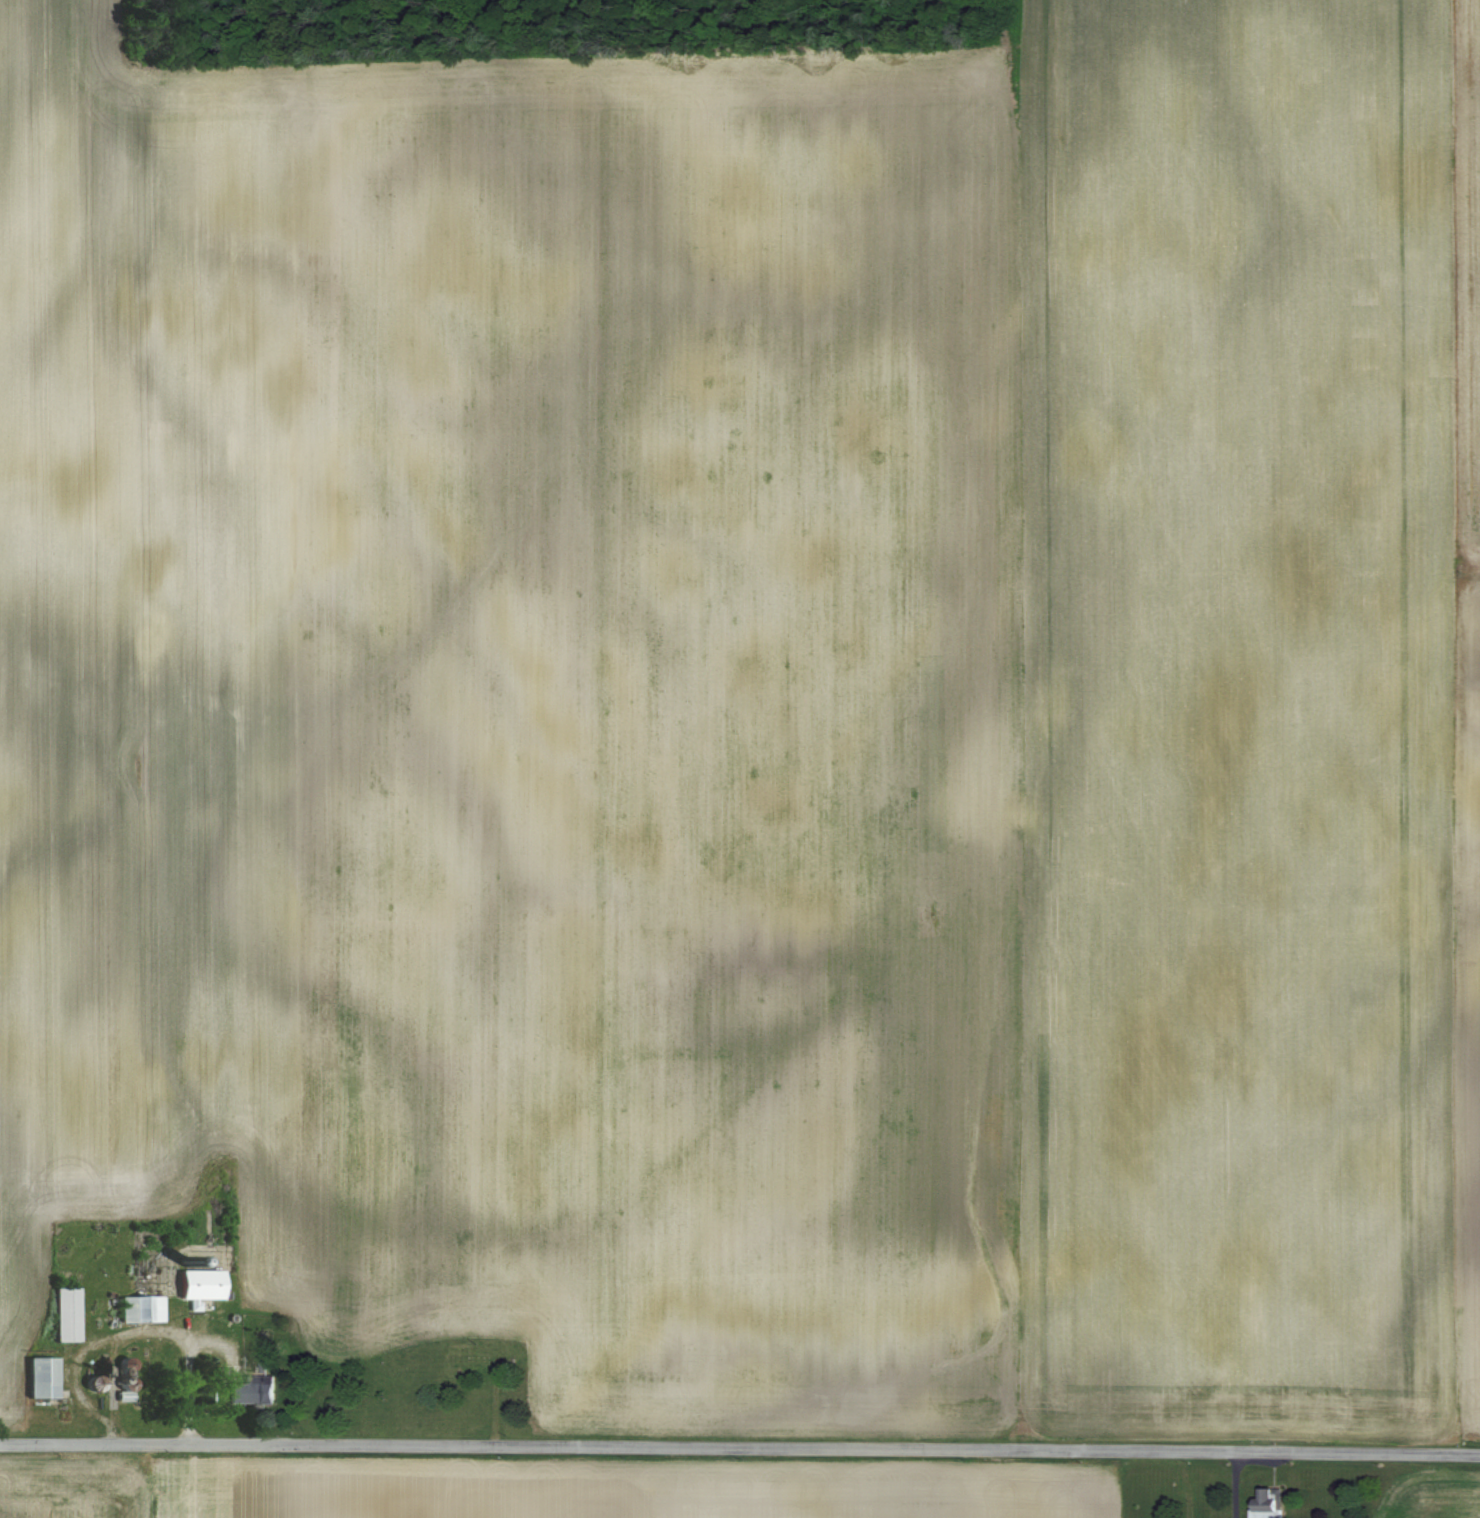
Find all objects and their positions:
building: (195, 1285)
building: (136, 1309)
building: (62, 1315)
building: (153, 1361)
building: (121, 1365)
building: (36, 1378)
building: (122, 1384)
building: (249, 1393)
road: (740, 1449)
building: (1268, 1504)

